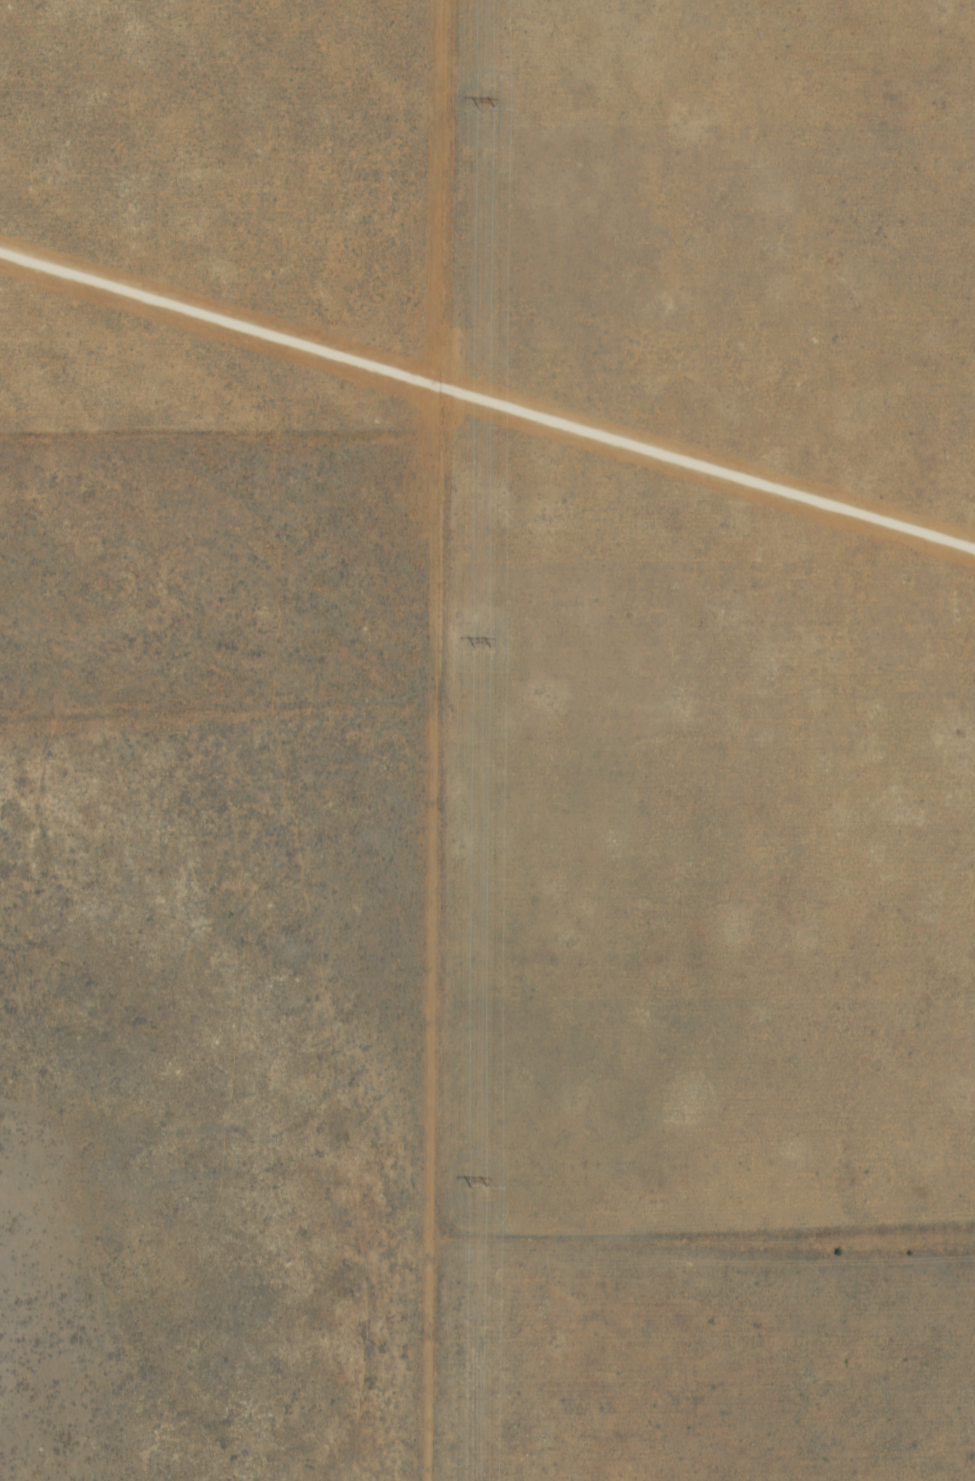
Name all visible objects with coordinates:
power tower: (484, 105)
power tower: (483, 645)
power tower: (477, 1186)

